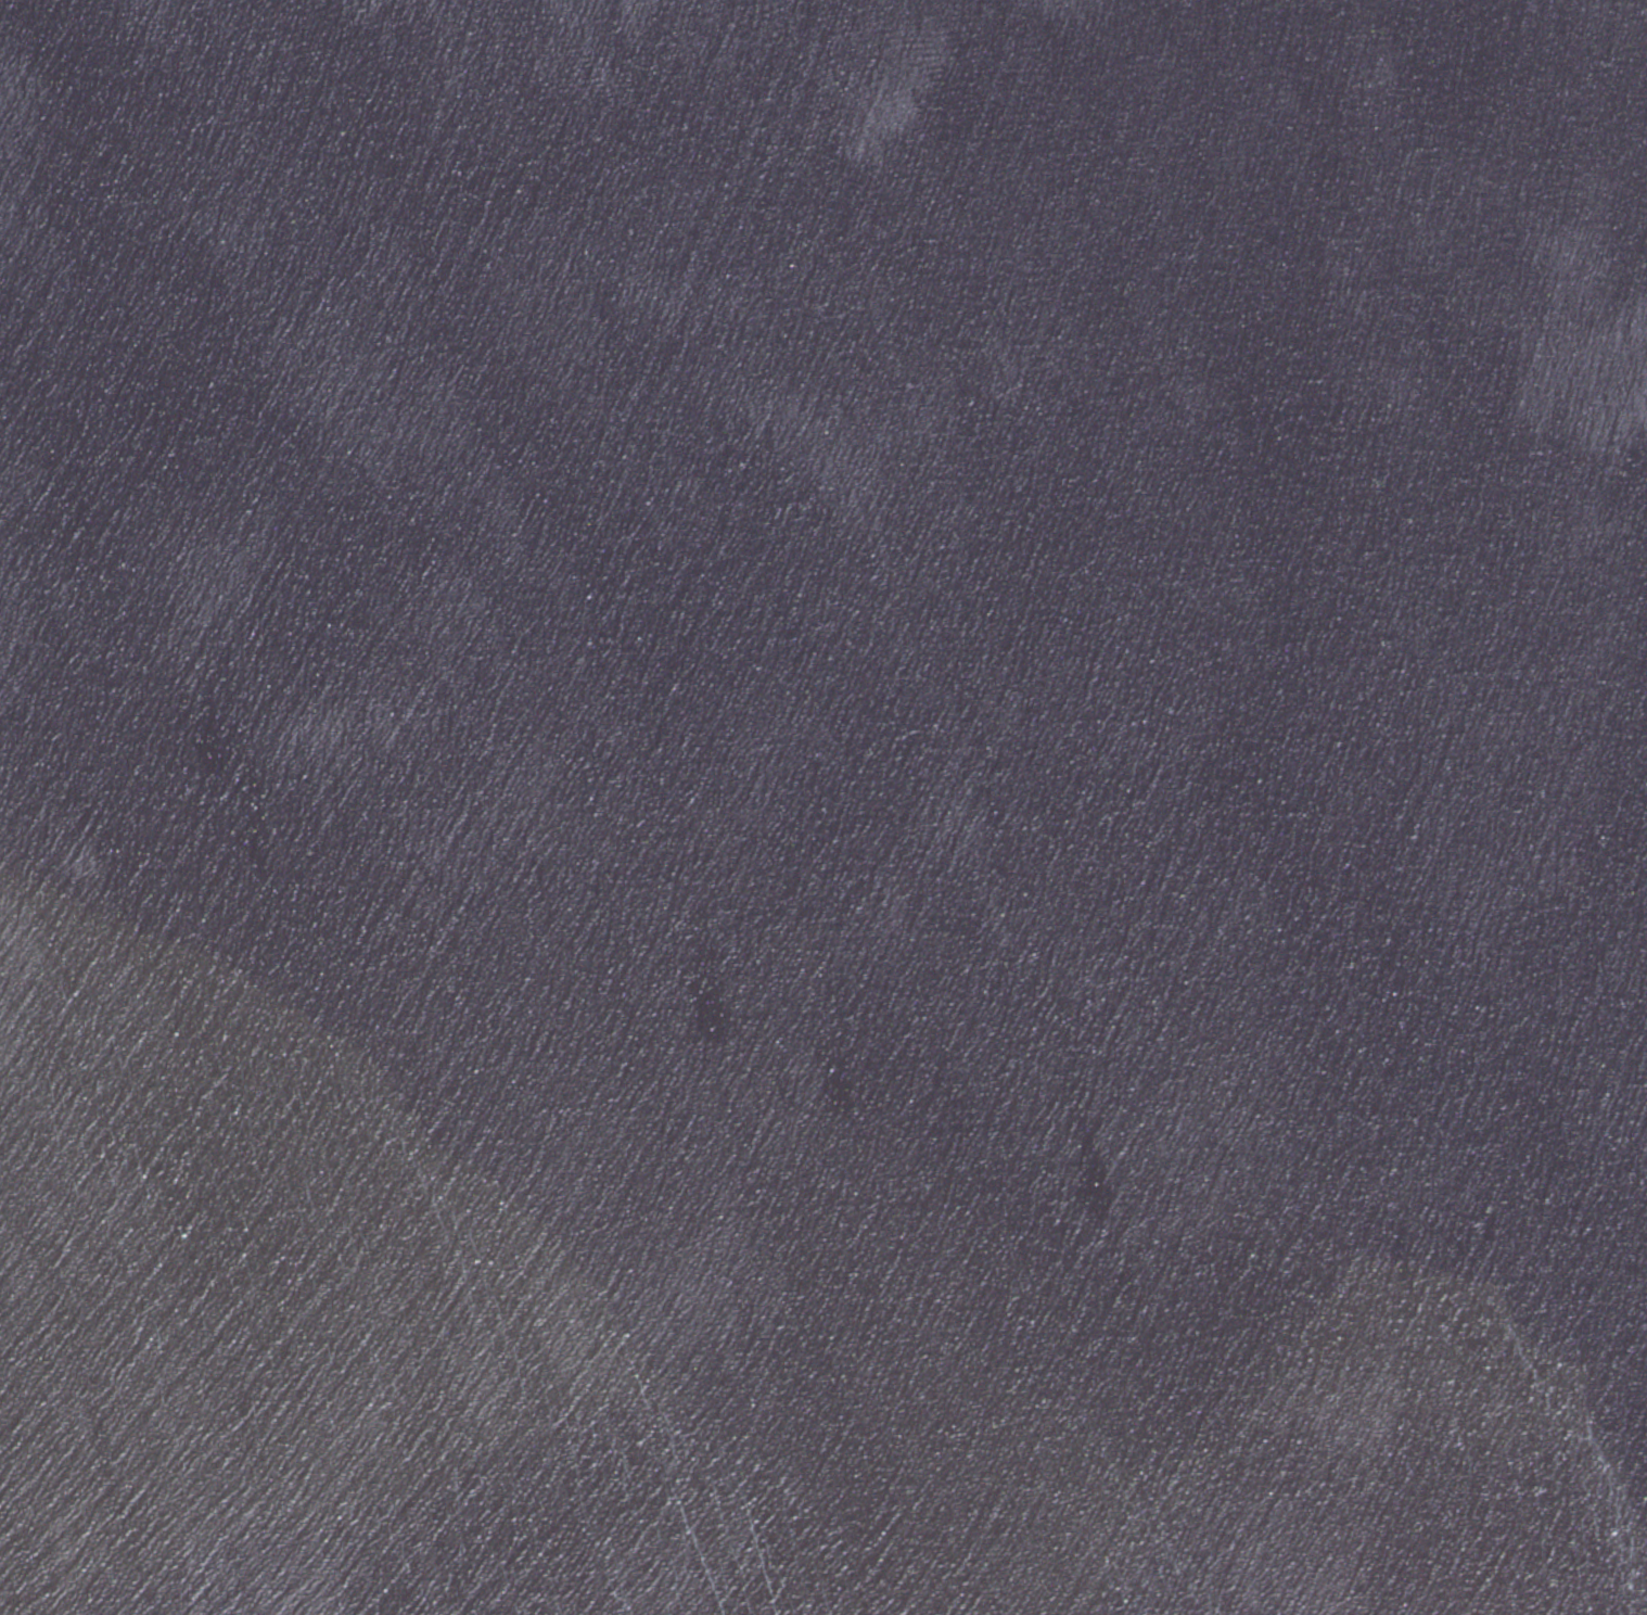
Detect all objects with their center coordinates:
river: (840, 258)

